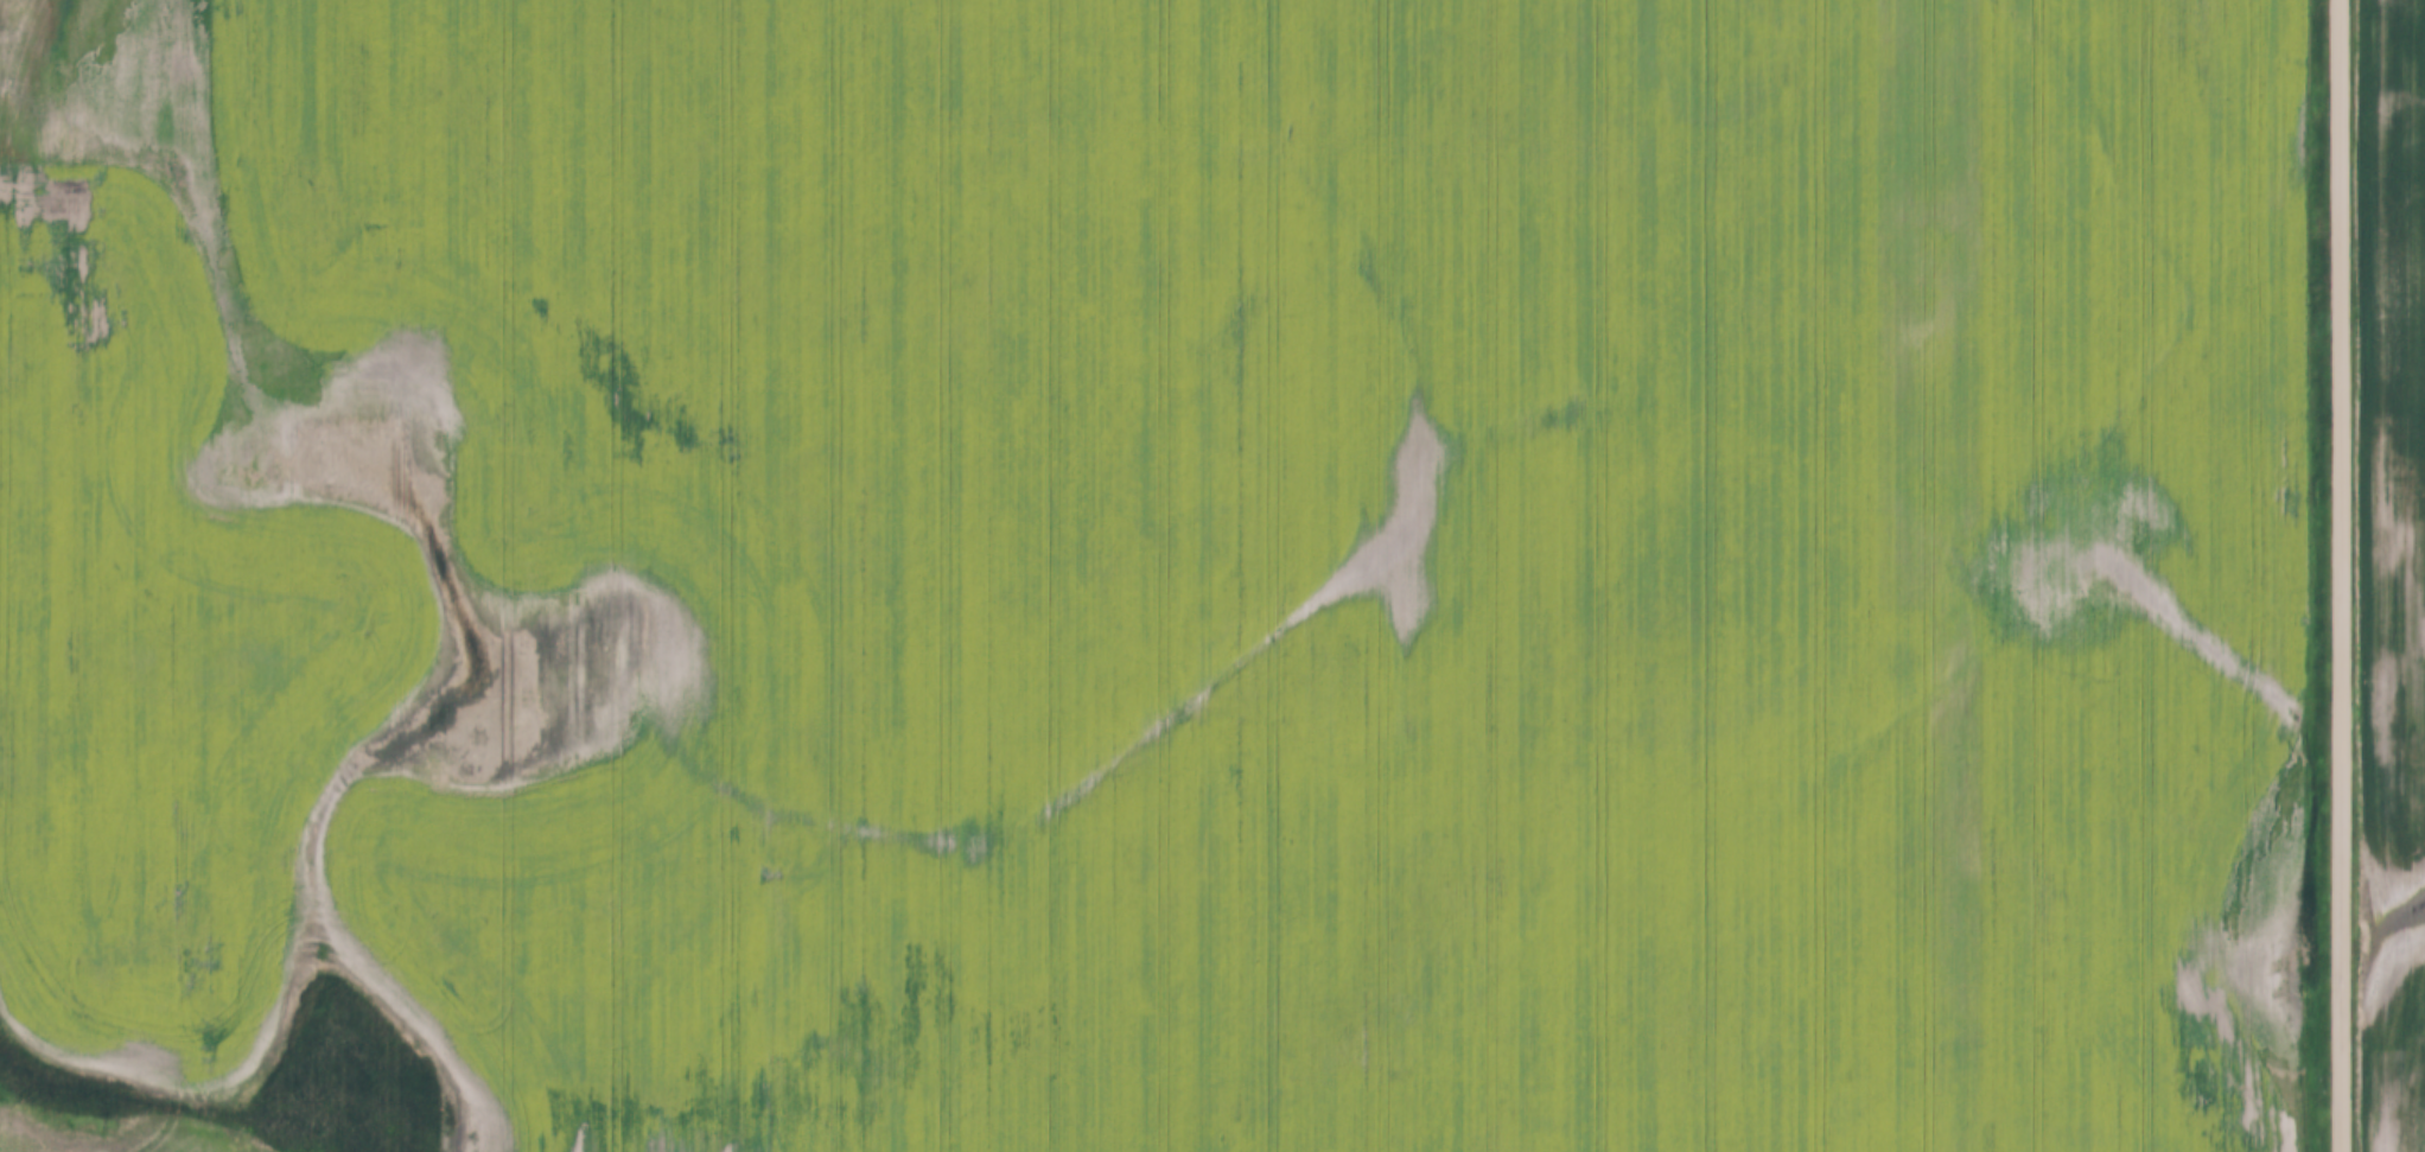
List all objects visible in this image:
road: (2342, 575)

